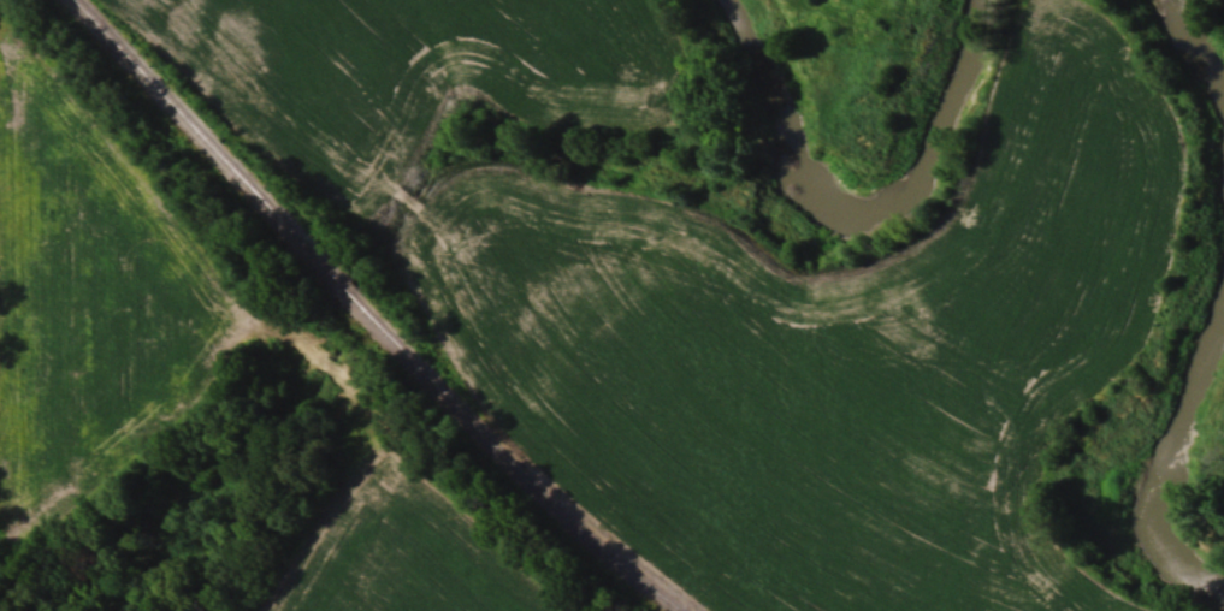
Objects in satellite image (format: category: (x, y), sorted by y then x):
river: (1207, 31)
river: (834, 200)
railway: (366, 314)
river: (1173, 432)

